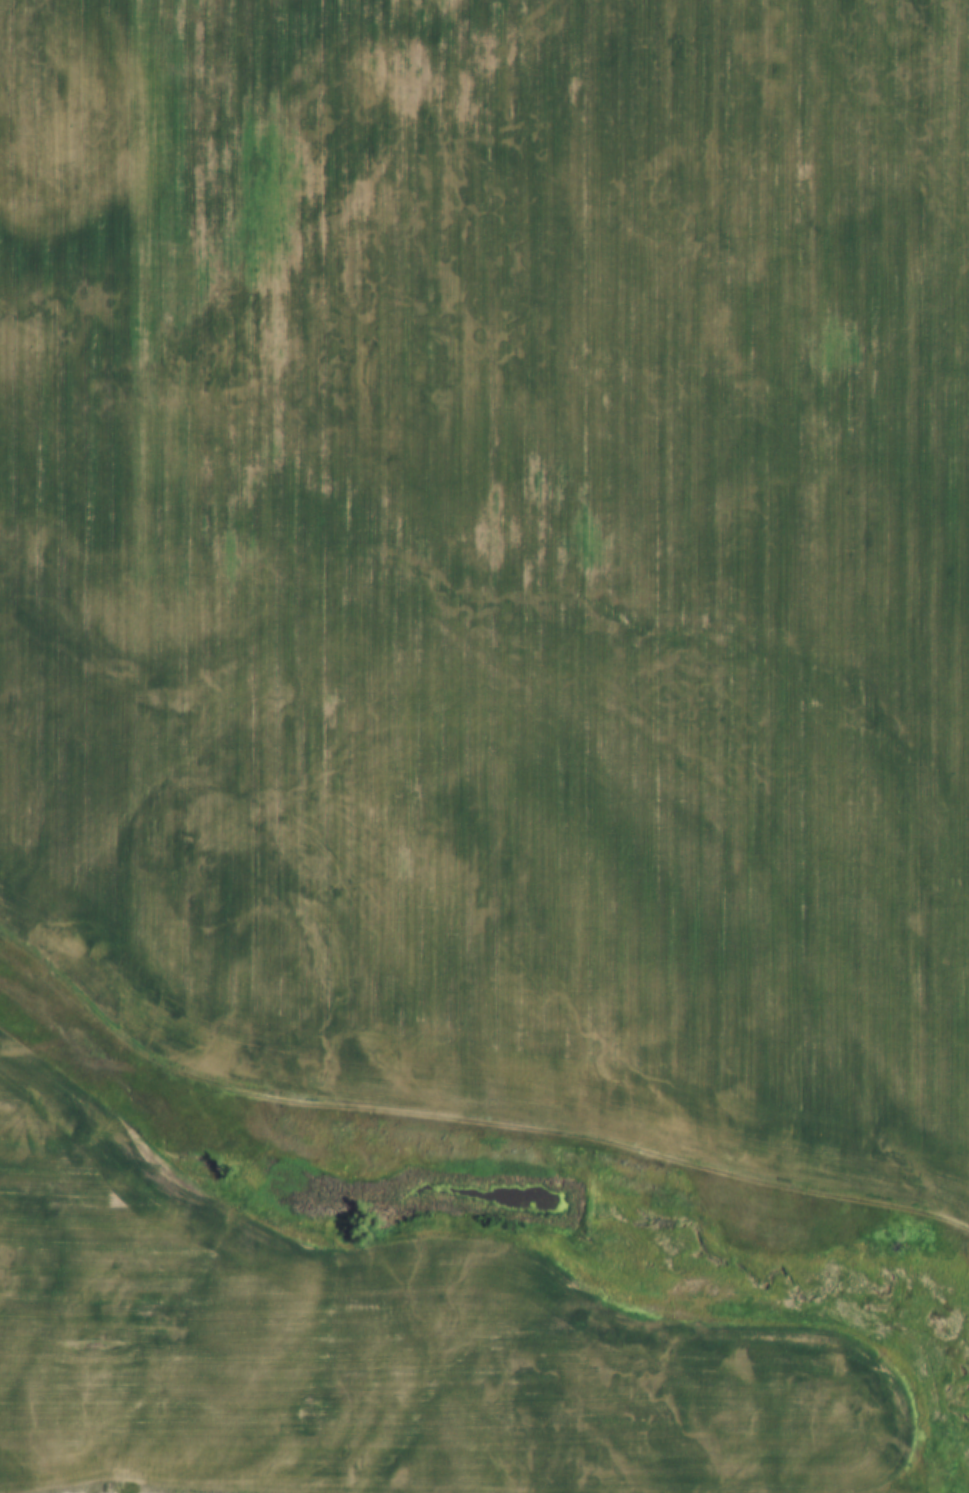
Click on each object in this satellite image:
road: (45, 998)
road: (525, 1138)

